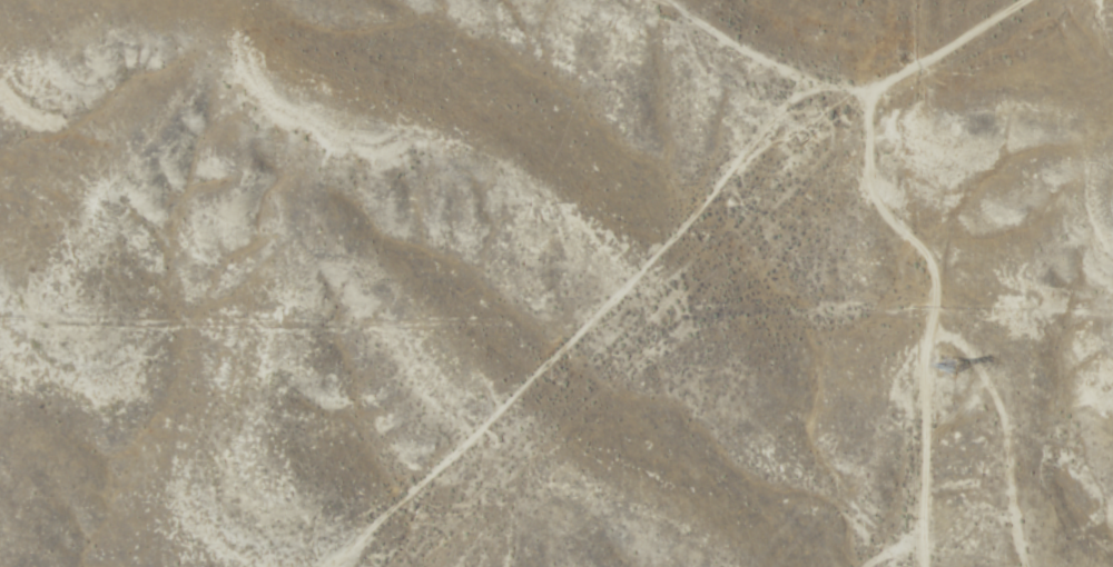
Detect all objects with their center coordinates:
road: (680, 242)
crop: (556, 283)
road: (930, 335)
power tower: (949, 368)
road: (922, 450)
road: (918, 554)

